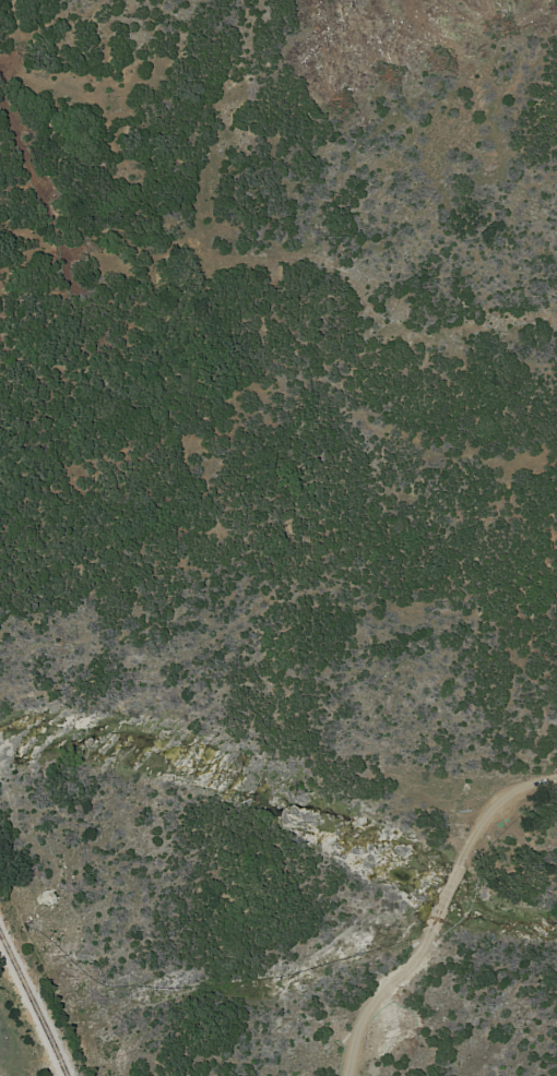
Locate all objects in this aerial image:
railway: (31, 1007)

